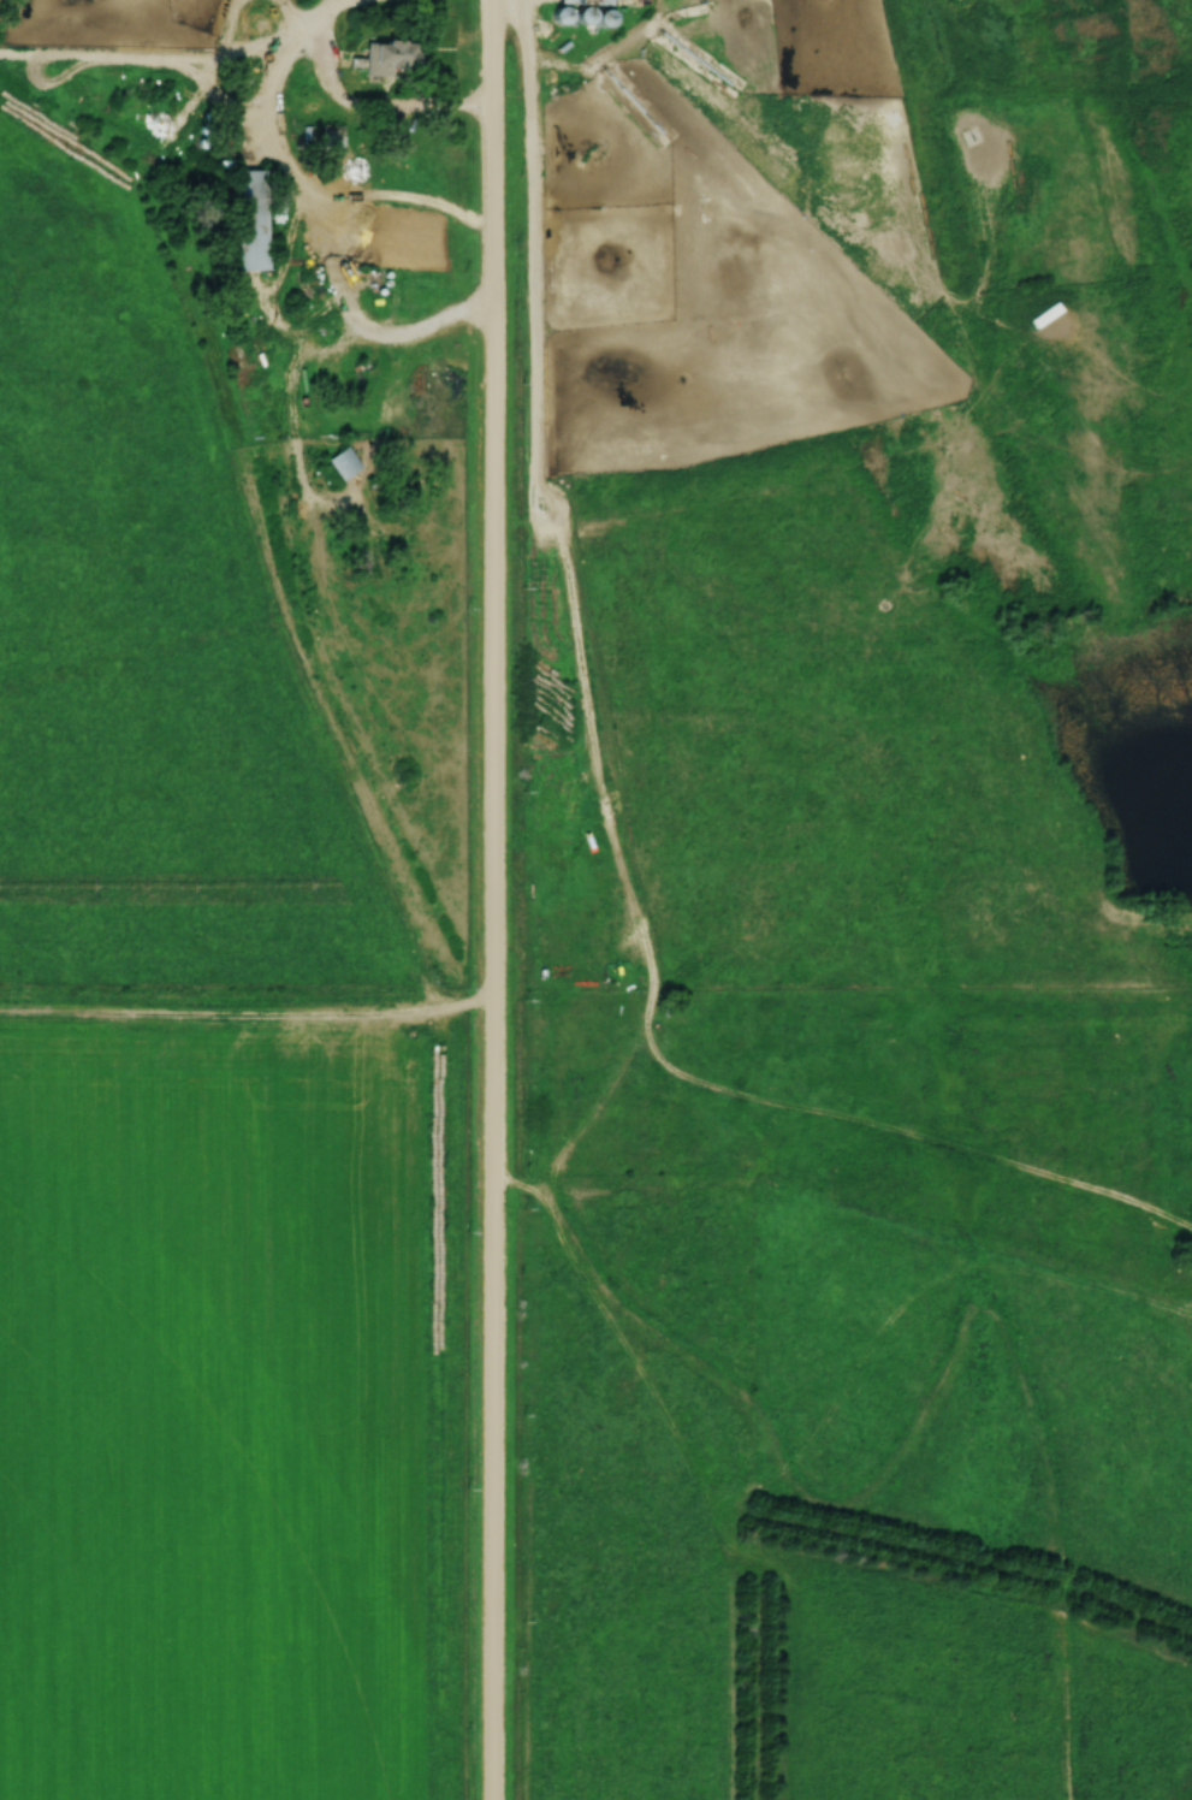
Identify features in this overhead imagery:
building: (575, 1)
building: (391, 60)
road: (362, 100)
building: (51, 114)
building: (251, 221)
building: (340, 463)
road: (493, 899)

